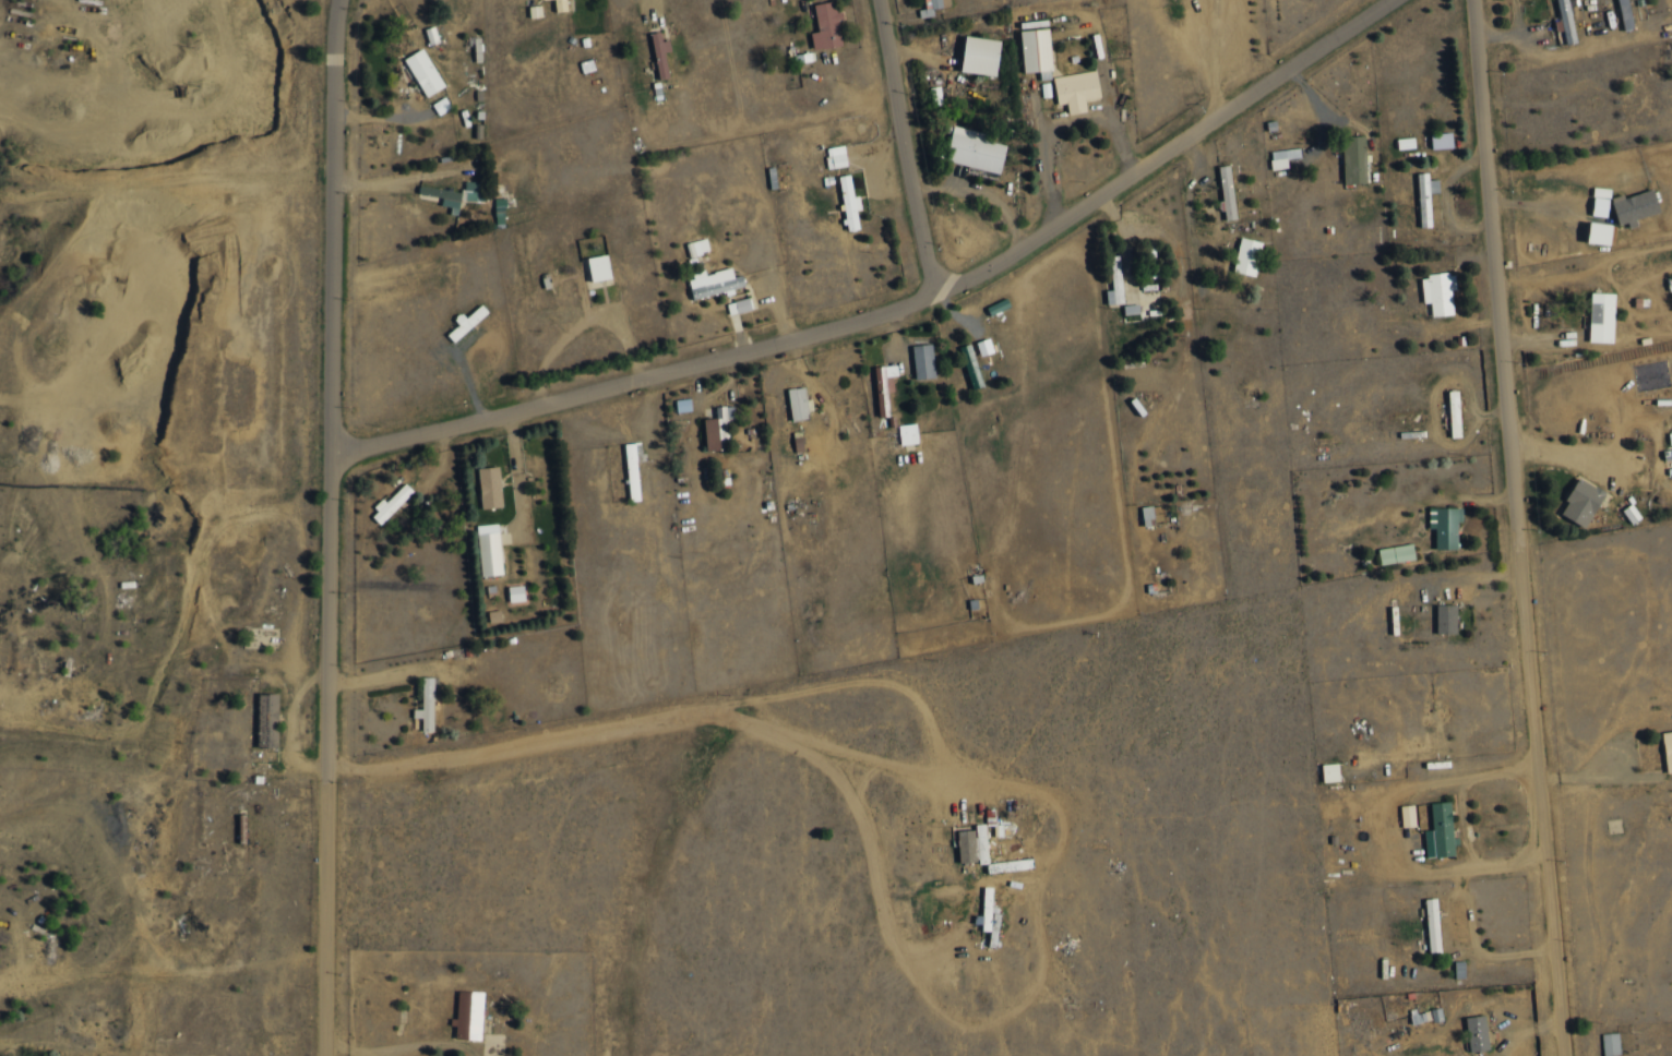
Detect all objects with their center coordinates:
building: (561, 5)
road: (664, 7)
building: (932, 7)
building: (535, 11)
building: (1625, 14)
building: (1566, 22)
building: (826, 26)
building: (1560, 31)
building: (1036, 46)
building: (660, 55)
road: (1216, 55)
building: (980, 56)
building: (423, 72)
building: (1076, 89)
building: (935, 95)
building: (441, 105)
road: (1068, 119)
building: (1442, 140)
building: (1406, 143)
road: (1561, 146)
road: (906, 147)
building: (974, 149)
building: (836, 157)
building: (1282, 157)
building: (1354, 159)
road: (163, 181)
road: (986, 189)
building: (1227, 192)
building: (455, 194)
building: (1425, 197)
building: (849, 203)
road: (1552, 204)
building: (1600, 206)
building: (1635, 207)
building: (1600, 233)
building: (697, 247)
building: (1247, 256)
building: (598, 267)
building: (1115, 281)
building: (714, 283)
building: (1438, 292)
building: (739, 307)
road: (896, 309)
building: (1601, 317)
building: (467, 323)
building: (923, 361)
building: (884, 387)
building: (798, 404)
building: (683, 405)
building: (1454, 413)
building: (719, 430)
building: (908, 434)
building: (1670, 437)
building: (633, 468)
building: (490, 488)
building: (392, 503)
building: (1581, 503)
building: (1148, 516)
building: (1445, 526)
road: (330, 527)
road: (1521, 527)
building: (489, 550)
building: (1396, 553)
building: (516, 593)
building: (1446, 619)
building: (426, 706)
building: (267, 720)
building: (1668, 749)
building: (1330, 772)
road: (1498, 773)
building: (1408, 815)
building: (1440, 831)
building: (972, 844)
building: (986, 908)
building: (1433, 925)
building: (468, 1015)
building: (1477, 1033)
road: (395, 1044)

